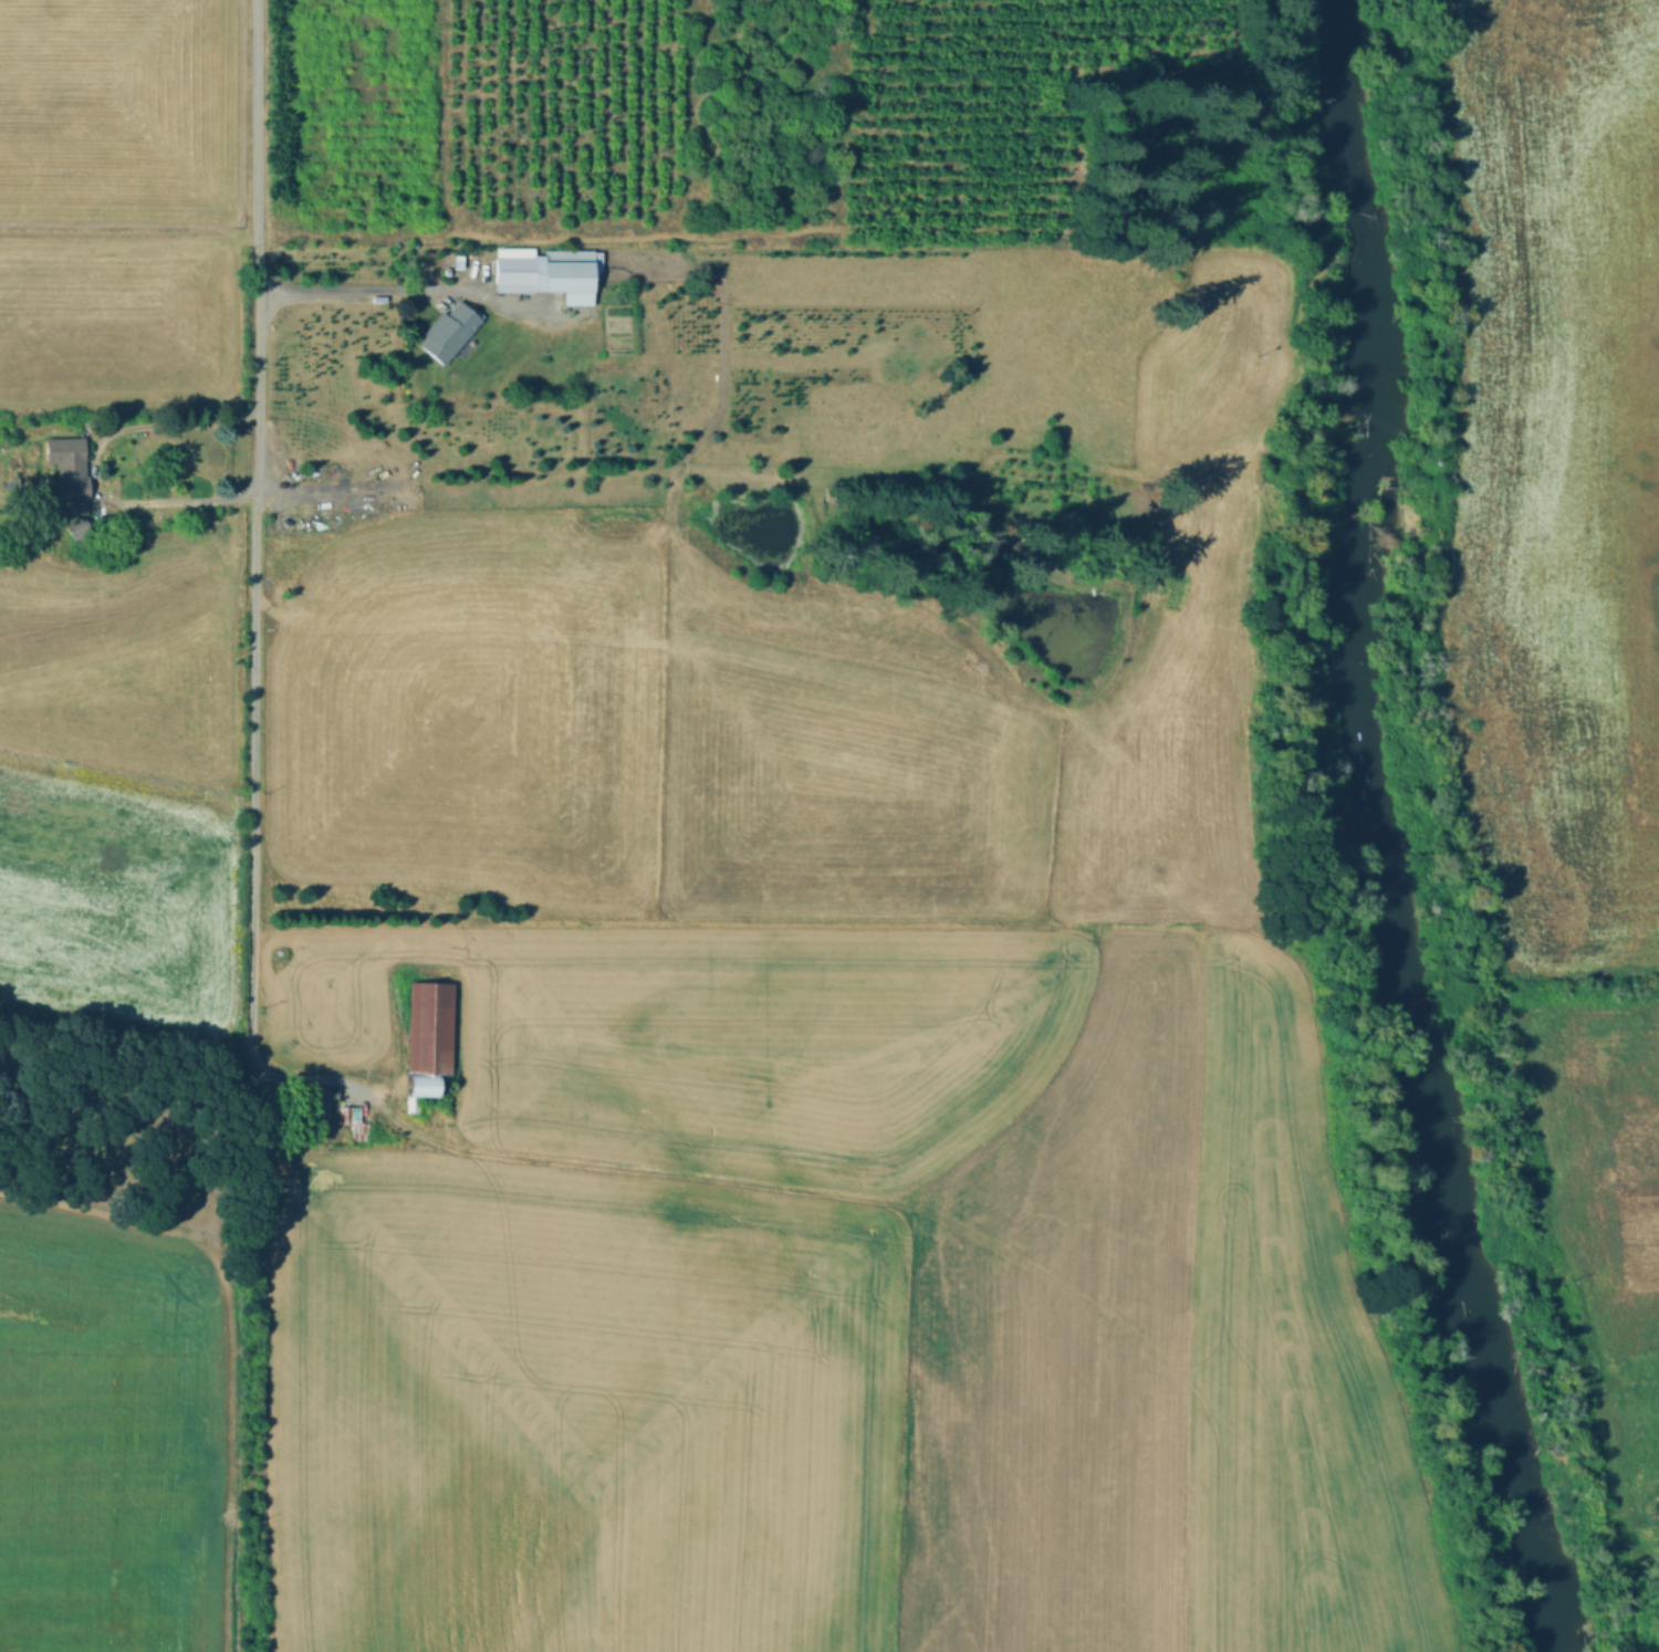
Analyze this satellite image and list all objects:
building: (546, 272)
road: (357, 286)
building: (449, 332)
crop: (1565, 461)
road: (90, 467)
building: (72, 485)
road: (253, 525)
building: (80, 529)
river: (1354, 823)
building: (430, 1028)
road: (326, 1071)
building: (422, 1086)
building: (319, 1102)
building: (414, 1104)
building: (345, 1113)
building: (362, 1129)
crop: (1601, 1156)
crop: (790, 1278)
road: (227, 1342)
crop: (101, 1442)
road: (1642, 1507)
river: (1535, 1640)

